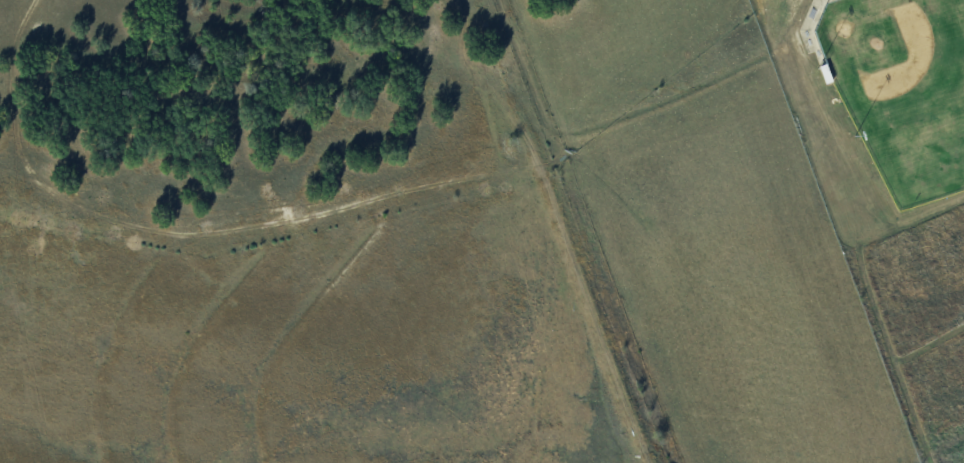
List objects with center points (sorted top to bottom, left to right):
building: (827, 72)

